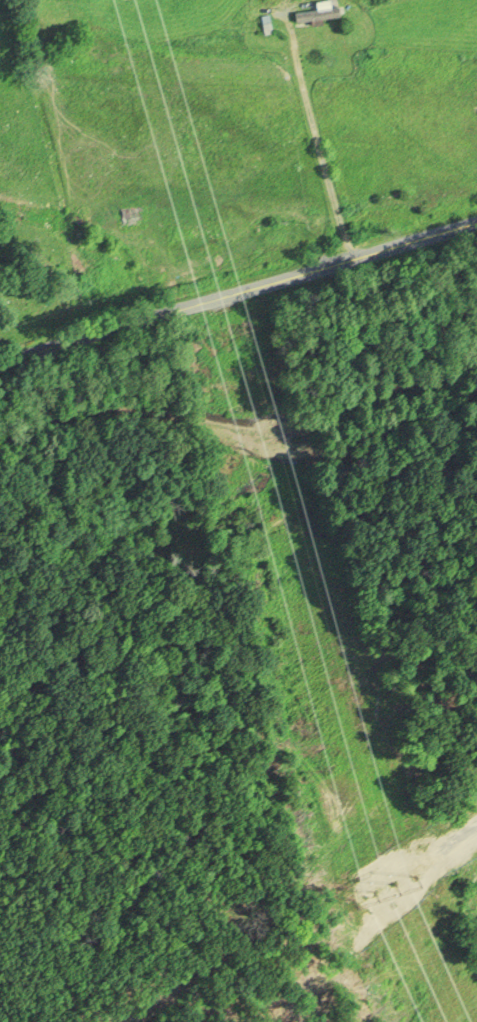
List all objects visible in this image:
building: (314, 13)
road: (239, 305)
power tower: (383, 888)

